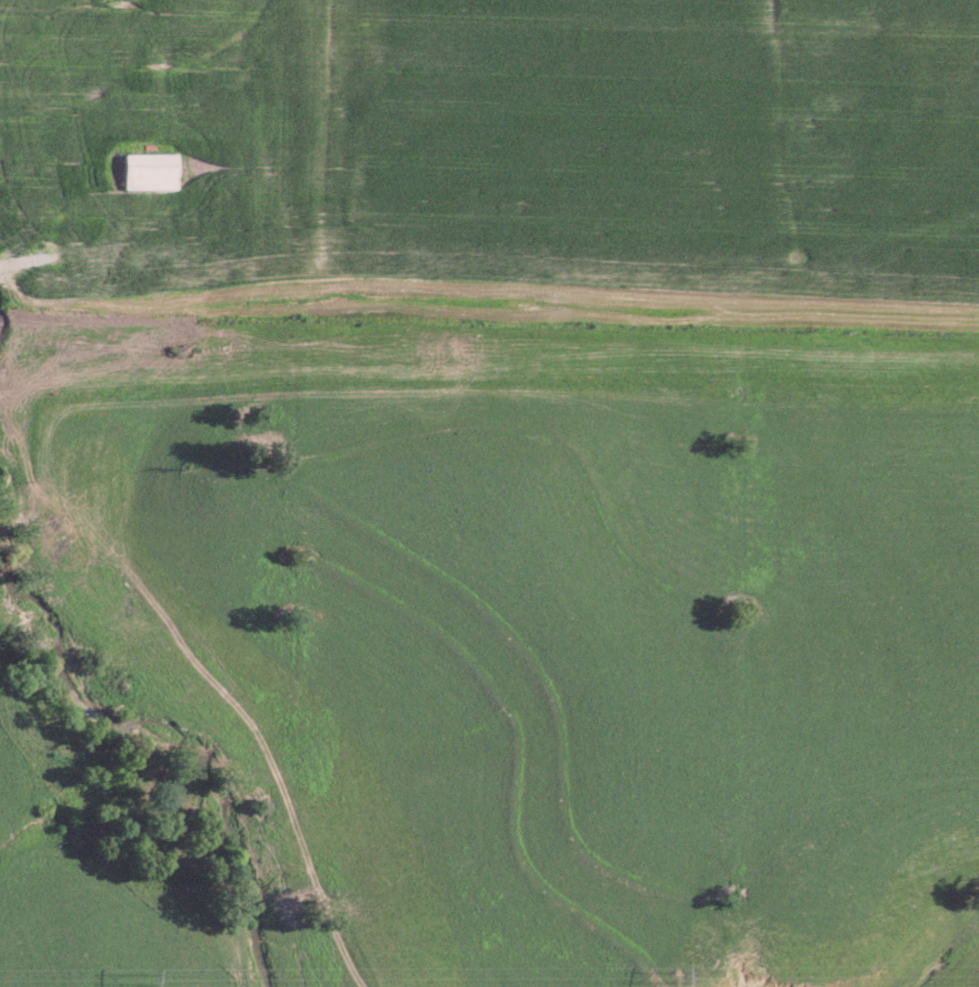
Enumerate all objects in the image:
power tower: (675, 978)
power tower: (146, 984)

